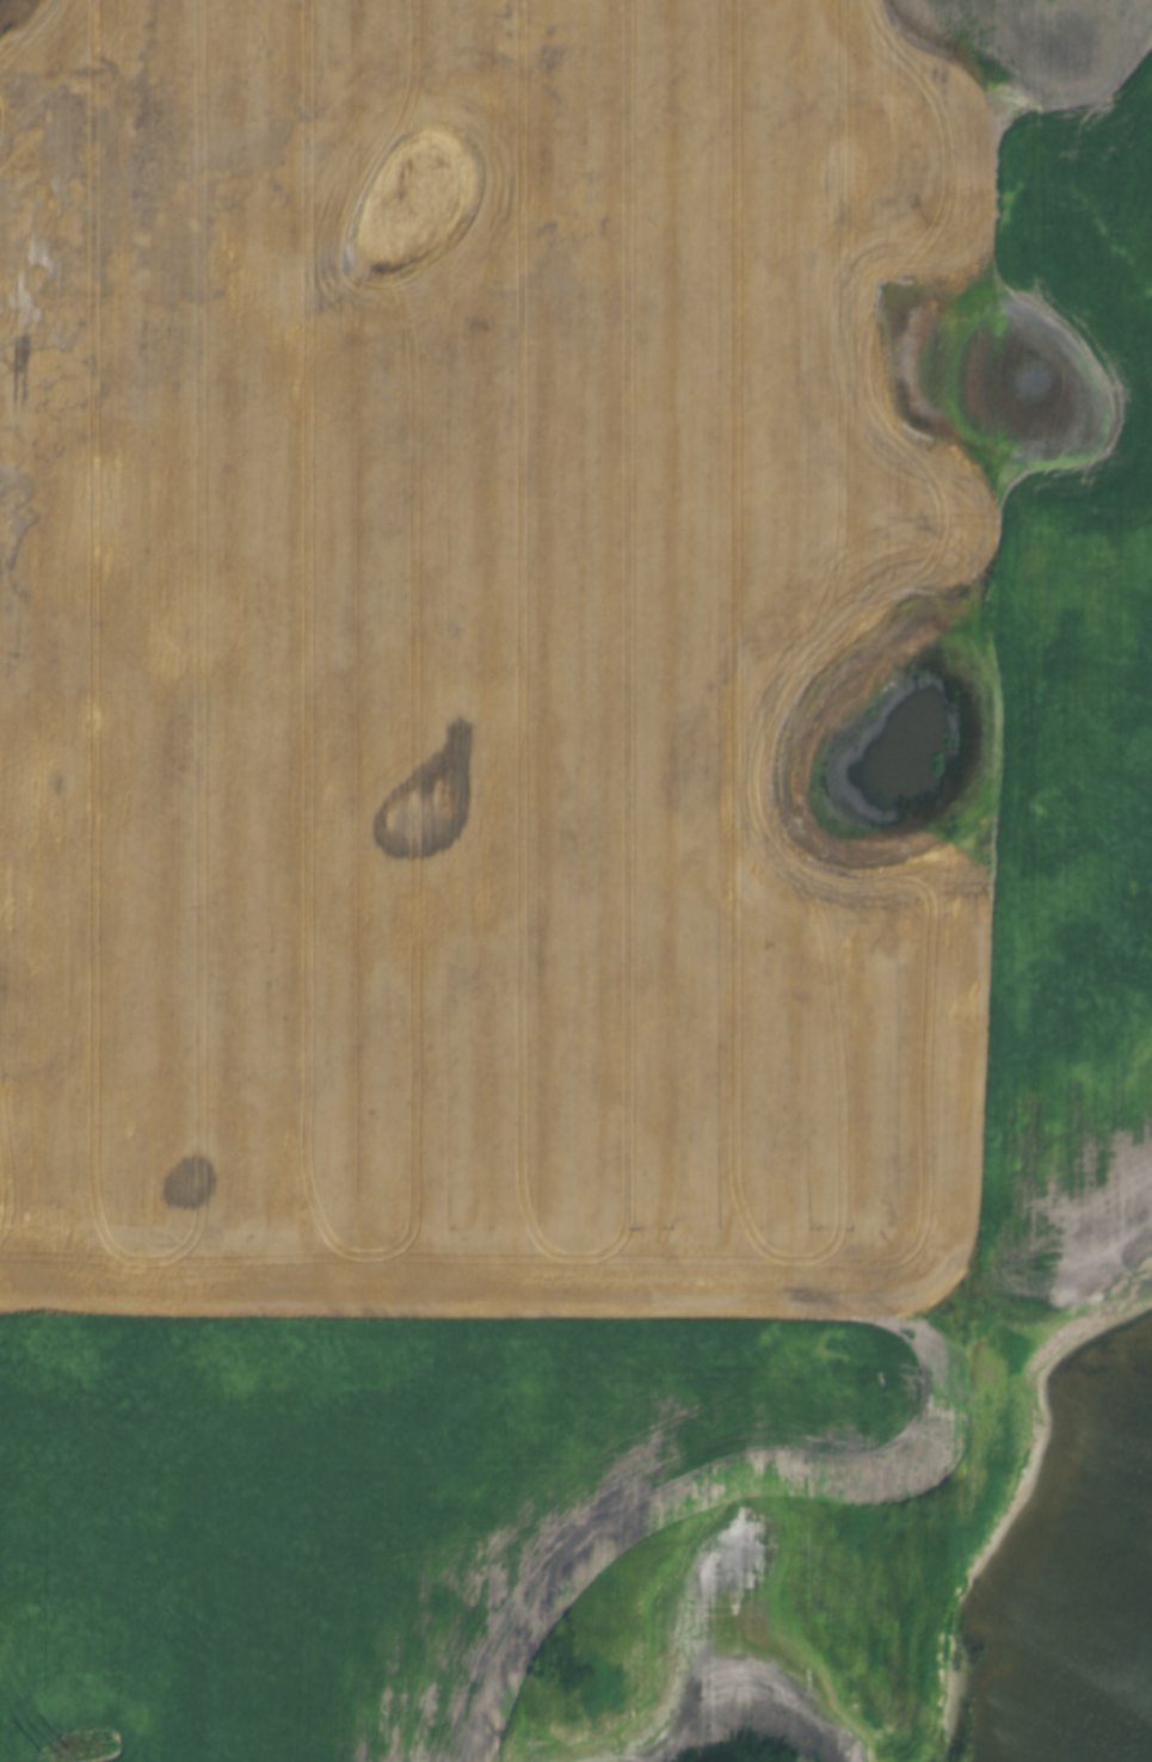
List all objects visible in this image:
power tower: (36, 1749)

